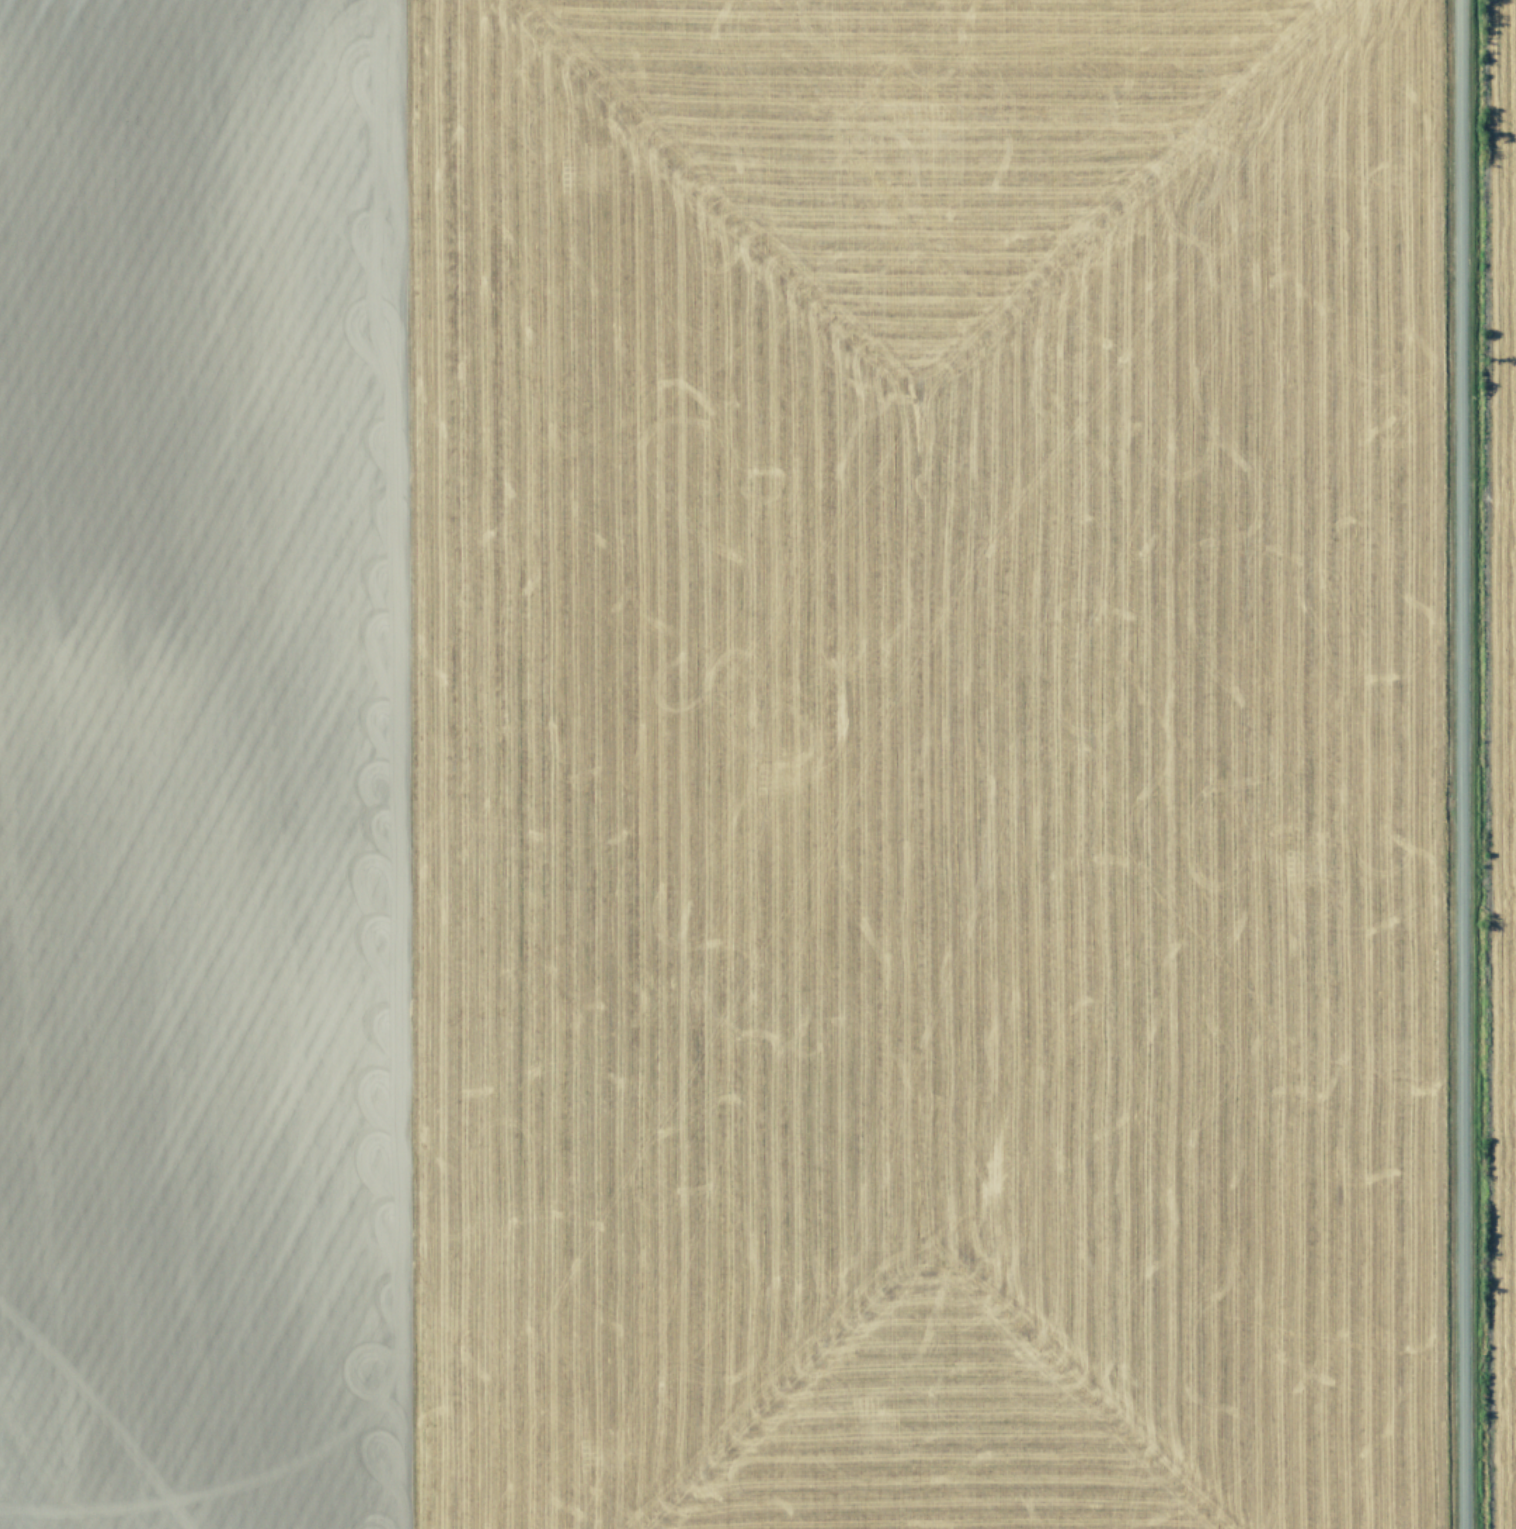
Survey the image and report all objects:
crop: (758, 764)
road: (1459, 764)

